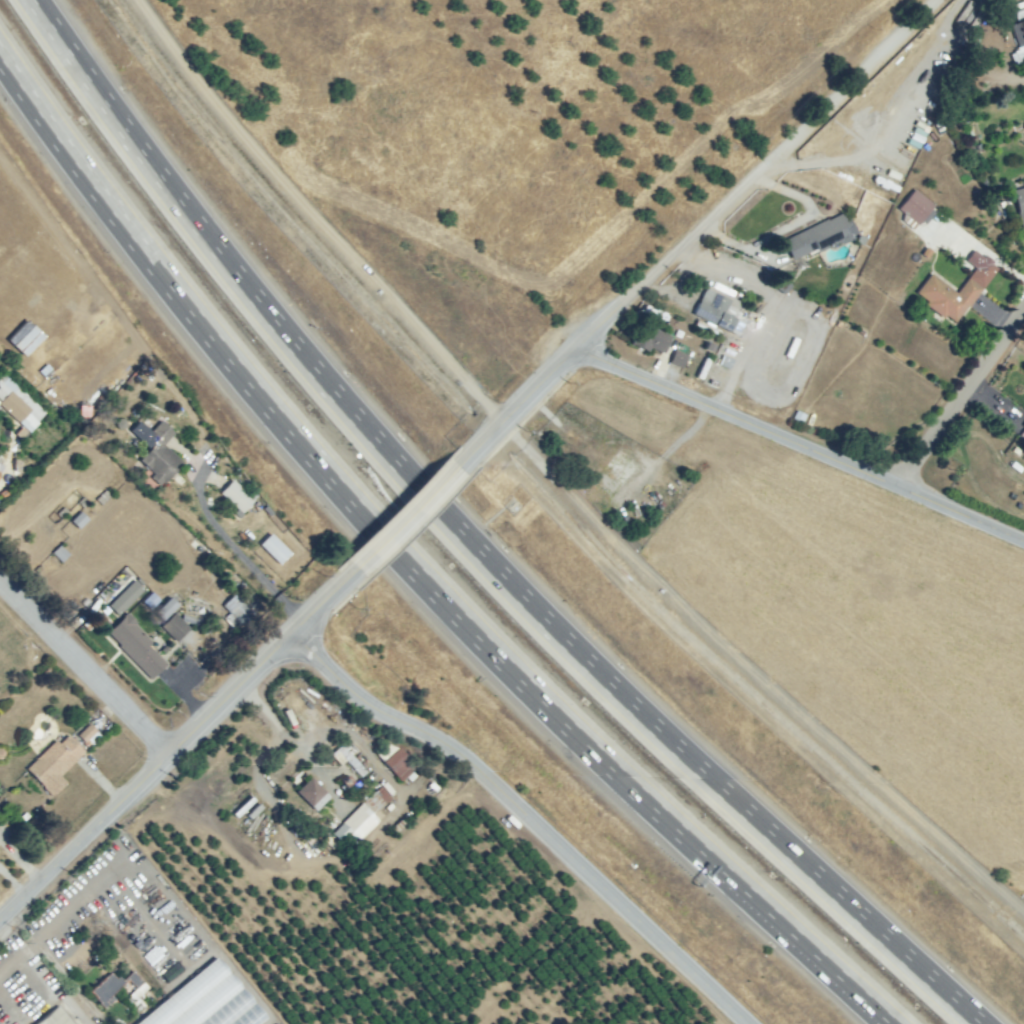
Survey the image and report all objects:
building: (1018, 32)
building: (1018, 205)
building: (915, 207)
road: (308, 219)
road: (702, 228)
road: (784, 228)
building: (821, 236)
road: (207, 238)
road: (140, 249)
building: (932, 283)
building: (717, 311)
building: (648, 338)
building: (677, 357)
road: (960, 395)
building: (19, 405)
building: (1023, 424)
road: (800, 444)
building: (158, 453)
building: (0, 456)
building: (0, 464)
building: (1012, 464)
building: (615, 473)
building: (236, 496)
building: (101, 497)
road: (428, 497)
building: (79, 503)
road: (352, 505)
building: (55, 511)
road: (406, 517)
building: (77, 519)
road: (226, 540)
building: (58, 553)
building: (121, 600)
building: (240, 602)
road: (318, 607)
building: (171, 619)
building: (133, 645)
road: (83, 664)
road: (758, 671)
building: (85, 732)
building: (394, 761)
building: (51, 764)
building: (349, 765)
road: (145, 775)
road: (714, 782)
building: (310, 795)
road: (647, 804)
road: (528, 816)
building: (362, 818)
building: (307, 836)
road: (21, 922)
road: (50, 922)
crop: (122, 948)
building: (117, 987)
building: (203, 1001)
building: (54, 1017)
building: (194, 1023)
building: (275, 1023)

